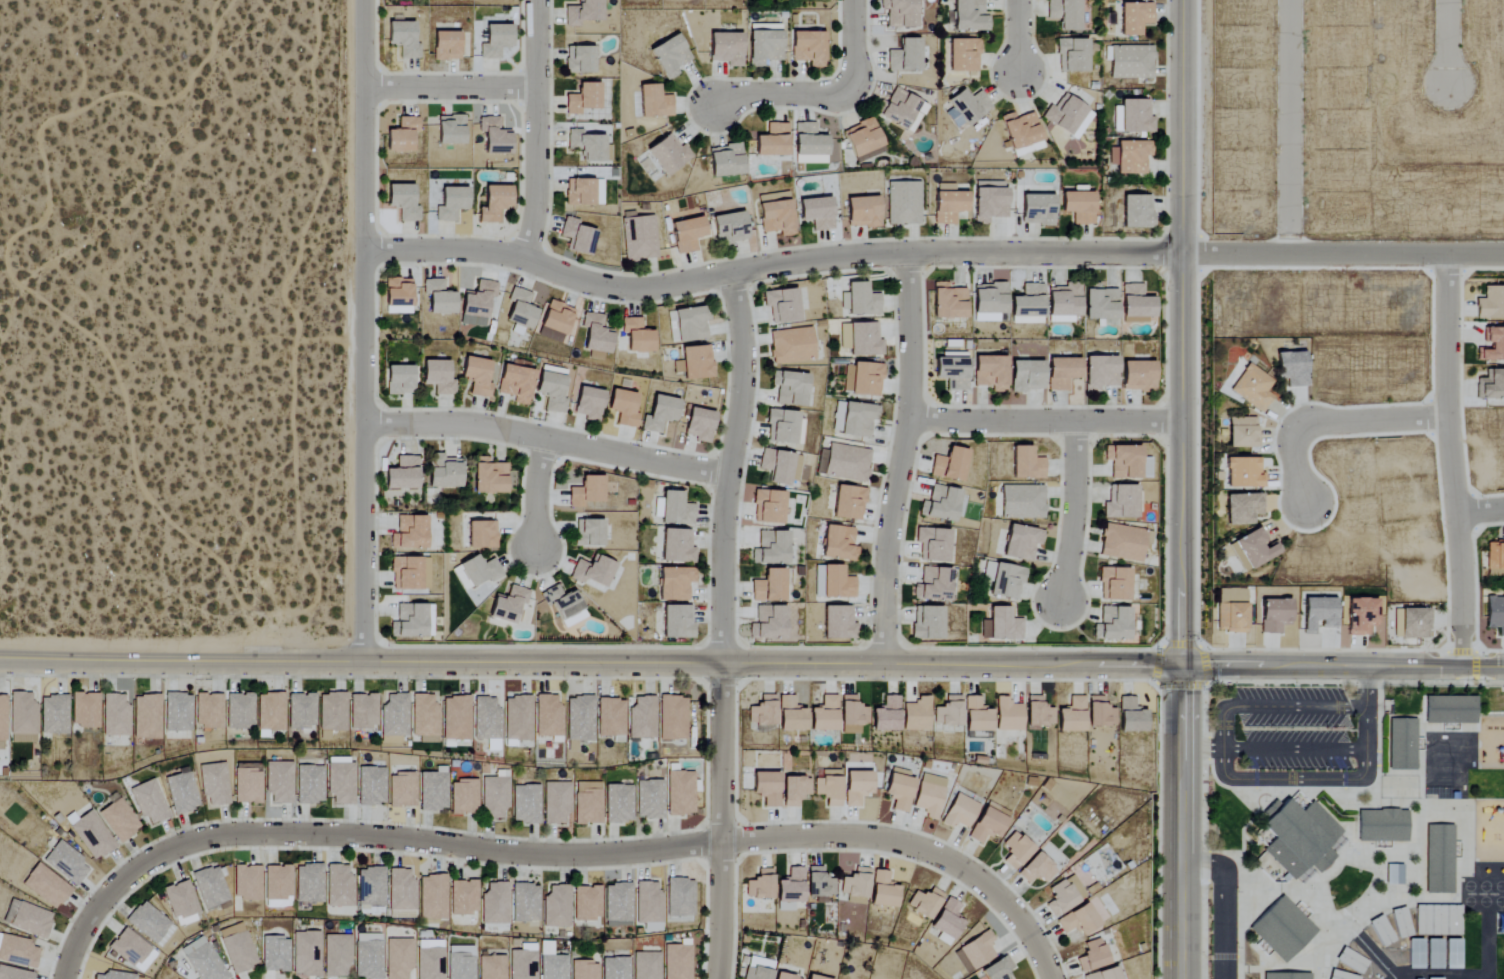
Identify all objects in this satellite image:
building: (583, 12)
building: (900, 13)
building: (1064, 13)
building: (969, 16)
building: (1134, 18)
road: (1019, 37)
building: (402, 39)
building: (495, 41)
road: (1449, 43)
building: (445, 46)
building: (764, 46)
building: (808, 48)
building: (726, 49)
building: (1072, 56)
building: (669, 57)
building: (904, 57)
building: (579, 60)
building: (1130, 62)
road: (450, 88)
road: (827, 94)
building: (583, 99)
building: (654, 103)
building: (969, 106)
building: (902, 111)
building: (1067, 117)
building: (1135, 117)
building: (954, 119)
road: (1291, 127)
building: (450, 130)
road: (537, 130)
building: (1022, 134)
building: (402, 136)
building: (494, 136)
building: (862, 138)
building: (772, 141)
building: (809, 145)
building: (588, 146)
building: (668, 154)
building: (1130, 157)
building: (725, 161)
building: (583, 192)
building: (989, 201)
building: (402, 202)
building: (493, 203)
building: (451, 204)
building: (903, 204)
building: (948, 204)
building: (1078, 207)
building: (1037, 210)
building: (862, 212)
building: (1137, 212)
building: (817, 213)
building: (776, 214)
building: (729, 228)
building: (686, 235)
building: (577, 237)
building: (638, 238)
road: (1342, 254)
road: (769, 265)
building: (398, 296)
building: (438, 298)
building: (859, 301)
building: (948, 302)
building: (989, 302)
building: (1065, 303)
building: (1491, 304)
building: (476, 305)
building: (1136, 305)
building: (782, 306)
building: (1028, 306)
building: (1101, 306)
building: (520, 309)
building: (556, 321)
building: (690, 325)
road: (365, 330)
road: (1181, 333)
building: (637, 336)
building: (596, 337)
building: (861, 340)
building: (791, 346)
building: (1493, 347)
building: (695, 363)
building: (1293, 369)
building: (952, 371)
building: (990, 373)
building: (1062, 373)
building: (1100, 373)
building: (1027, 376)
building: (437, 377)
building: (476, 377)
building: (1139, 377)
building: (399, 380)
building: (862, 380)
building: (515, 384)
building: (1491, 386)
building: (1255, 388)
building: (552, 389)
building: (790, 389)
building: (588, 404)
building: (623, 408)
building: (660, 414)
building: (853, 419)
road: (1334, 421)
road: (1045, 422)
building: (699, 425)
building: (784, 428)
building: (1243, 433)
road: (549, 440)
road: (901, 458)
road: (1451, 460)
building: (1123, 462)
building: (846, 463)
building: (1027, 465)
road: (733, 466)
building: (949, 466)
building: (780, 467)
building: (443, 472)
building: (1244, 473)
building: (402, 475)
building: (488, 477)
building: (586, 492)
road: (533, 494)
building: (1022, 502)
building: (1121, 503)
building: (848, 504)
building: (940, 504)
building: (768, 508)
building: (1243, 509)
building: (676, 510)
road: (1480, 511)
road: (1074, 513)
building: (587, 533)
building: (409, 534)
building: (481, 536)
building: (1021, 543)
building: (1123, 544)
building: (838, 545)
building: (933, 546)
building: (677, 547)
building: (1256, 548)
building: (771, 550)
building: (1495, 557)
building: (593, 571)
building: (477, 572)
building: (409, 574)
building: (1004, 581)
building: (675, 584)
building: (837, 584)
building: (1114, 585)
building: (933, 586)
building: (769, 587)
building: (508, 606)
building: (565, 607)
building: (1318, 614)
building: (1495, 614)
building: (1274, 616)
building: (1361, 616)
building: (1232, 618)
building: (409, 622)
building: (677, 623)
building: (768, 624)
building: (838, 624)
building: (927, 624)
building: (1397, 624)
building: (1415, 624)
building: (1113, 625)
building: (1001, 626)
road: (1476, 647)
road: (1320, 649)
road: (1159, 652)
road: (590, 661)
road: (1342, 667)
road: (1340, 681)
road: (1291, 706)
building: (84, 710)
building: (208, 710)
building: (301, 710)
building: (239, 711)
building: (363, 711)
building: (762, 711)
building: (949, 711)
building: (1449, 711)
building: (177, 712)
building: (332, 712)
building: (1038, 712)
building: (1100, 712)
building: (270, 713)
building: (824, 714)
building: (852, 714)
building: (917, 714)
building: (1008, 714)
building: (53, 715)
building: (115, 715)
building: (791, 715)
building: (886, 715)
building: (977, 715)
building: (1072, 715)
building: (147, 716)
building: (1131, 716)
building: (611, 717)
building: (673, 717)
building: (22, 718)
building: (424, 718)
building: (456, 718)
building: (518, 718)
building: (549, 718)
building: (579, 718)
building: (642, 718)
building: (487, 721)
building: (2, 723)
building: (1403, 744)
road: (1201, 749)
road: (1294, 749)
road: (1336, 778)
building: (340, 780)
building: (278, 782)
building: (213, 783)
building: (309, 784)
building: (247, 785)
building: (371, 786)
building: (766, 787)
building: (828, 787)
building: (856, 787)
building: (899, 789)
building: (401, 790)
building: (432, 790)
building: (794, 790)
building: (180, 792)
building: (680, 793)
building: (929, 795)
building: (464, 797)
building: (494, 797)
building: (649, 799)
building: (148, 801)
building: (556, 803)
building: (587, 803)
building: (618, 803)
building: (525, 804)
building: (959, 812)
building: (118, 820)
road: (720, 821)
road: (1180, 822)
building: (986, 825)
building: (1382, 826)
road: (357, 833)
building: (90, 835)
building: (1295, 840)
building: (1336, 844)
road: (913, 847)
building: (1015, 850)
building: (1440, 857)
building: (65, 862)
building: (1036, 870)
building: (1394, 874)
building: (246, 882)
building: (308, 883)
building: (819, 883)
building: (277, 885)
building: (760, 885)
building: (45, 886)
building: (339, 886)
building: (371, 886)
building: (856, 886)
building: (209, 887)
building: (401, 890)
building: (883, 890)
building: (1064, 895)
building: (432, 897)
building: (464, 897)
building: (679, 897)
building: (618, 902)
road: (1223, 902)
building: (525, 903)
building: (587, 903)
building: (648, 903)
building: (924, 903)
building: (181, 904)
building: (495, 904)
building: (557, 906)
building: (26, 918)
building: (948, 919)
building: (1078, 919)
building: (1437, 920)
building: (147, 922)
building: (1401, 922)
building: (1282, 929)
building: (1381, 930)
building: (237, 948)
building: (17, 951)
building: (975, 952)
building: (274, 953)
building: (305, 953)
building: (1415, 953)
building: (1434, 953)
building: (1452, 953)
building: (1092, 955)
building: (335, 956)
building: (368, 956)
building: (398, 958)
building: (429, 959)
building: (1351, 959)
building: (203, 960)
building: (460, 962)
building: (522, 962)
building: (677, 962)
building: (552, 964)
building: (646, 966)
building: (491, 967)
building: (615, 968)
building: (998, 969)
building: (584, 970)
building: (756, 972)
building: (14, 974)
building: (1104, 974)
building: (113, 975)
building: (1340, 975)
building: (1286, 976)
building: (785, 977)
building: (813, 977)
road: (1393, 978)
road: (1394, 978)
building: (1434, 978)

